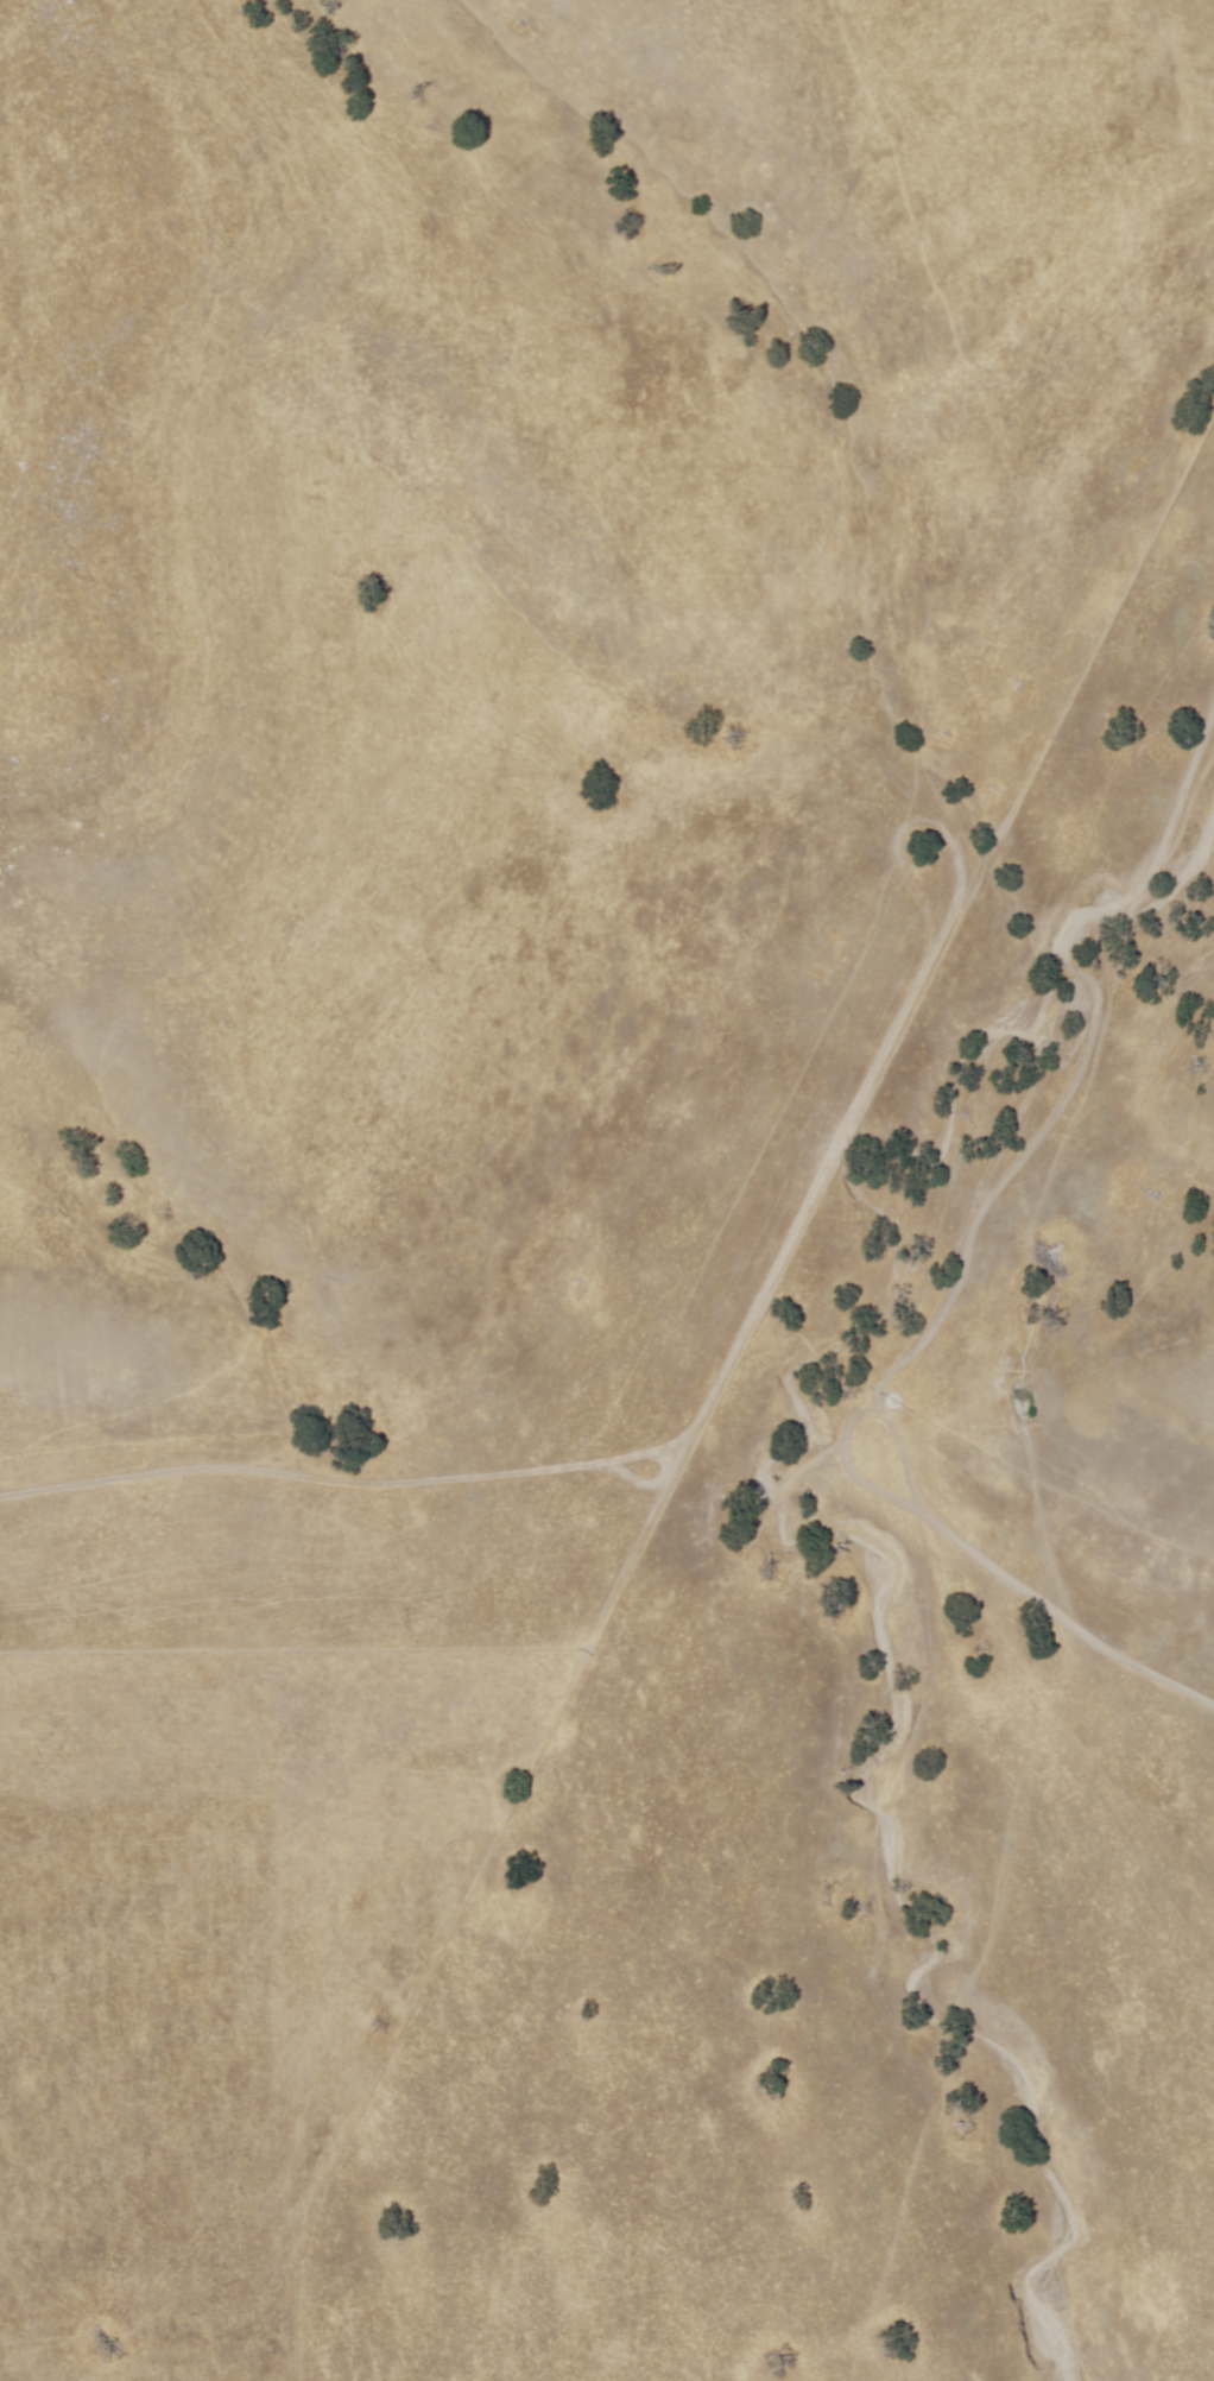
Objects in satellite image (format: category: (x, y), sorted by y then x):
road: (1016, 1155)
road: (1090, 1432)

